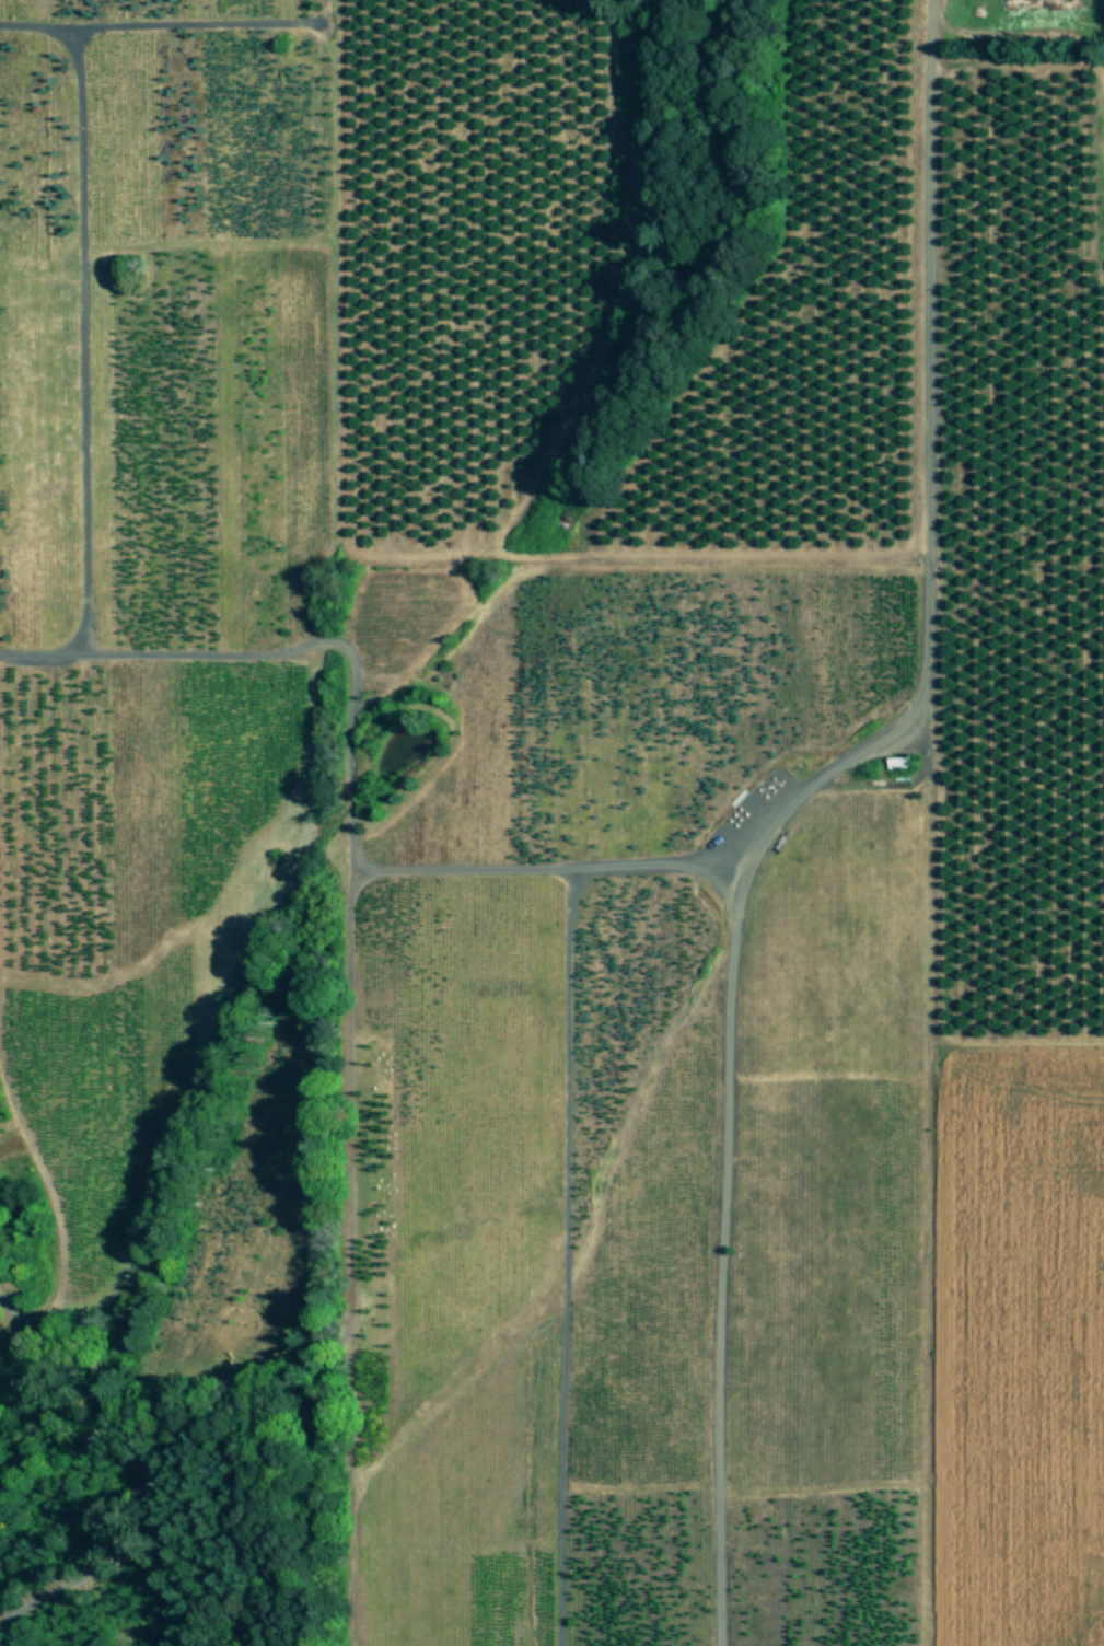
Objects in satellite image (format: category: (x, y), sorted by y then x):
road: (83, 344)
road: (351, 728)
road: (791, 800)
road: (559, 1171)
road: (160, 1459)

